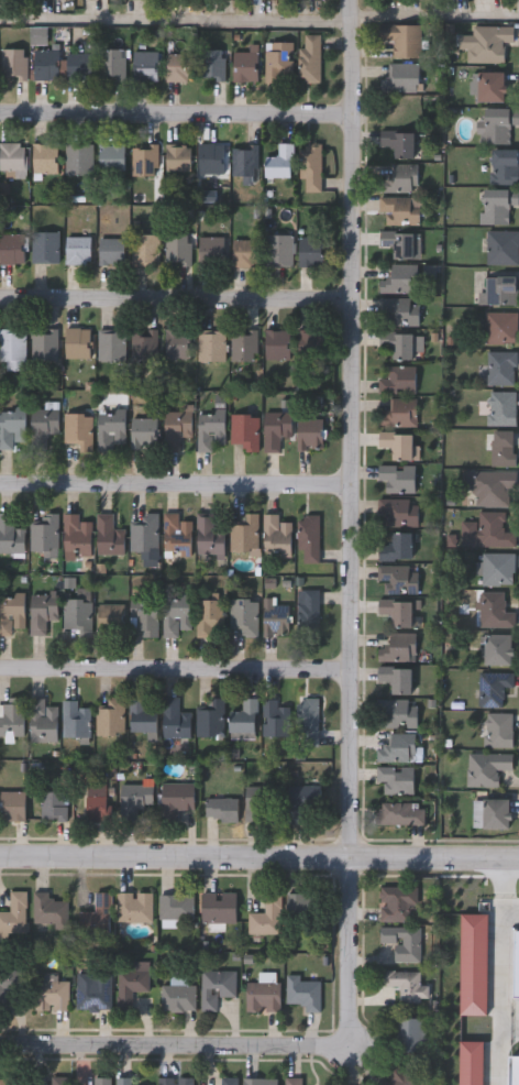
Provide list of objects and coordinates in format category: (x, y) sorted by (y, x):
building: (10, 0)
road: (259, 14)
building: (400, 40)
building: (488, 44)
building: (310, 58)
building: (279, 62)
building: (112, 63)
building: (14, 64)
building: (47, 64)
building: (80, 65)
building: (212, 65)
building: (145, 66)
building: (180, 67)
building: (246, 67)
building: (402, 78)
building: (493, 88)
road: (174, 103)
building: (496, 125)
building: (399, 143)
building: (13, 157)
building: (112, 157)
building: (179, 157)
building: (46, 158)
building: (145, 160)
building: (213, 160)
building: (79, 161)
building: (245, 162)
building: (283, 163)
building: (311, 167)
building: (505, 167)
building: (401, 178)
building: (497, 205)
building: (400, 211)
building: (401, 244)
building: (45, 248)
building: (501, 248)
building: (12, 249)
building: (178, 249)
building: (145, 250)
building: (78, 251)
building: (279, 251)
building: (112, 252)
building: (212, 252)
building: (312, 252)
building: (245, 253)
building: (400, 281)
building: (498, 291)
road: (173, 302)
building: (399, 313)
building: (500, 328)
building: (78, 342)
building: (44, 343)
building: (178, 343)
building: (310, 343)
building: (111, 344)
building: (144, 344)
building: (278, 344)
building: (401, 344)
building: (212, 346)
building: (244, 346)
building: (12, 348)
building: (500, 369)
building: (398, 380)
building: (501, 408)
building: (399, 414)
building: (43, 425)
building: (12, 428)
building: (111, 428)
building: (177, 428)
building: (212, 429)
building: (78, 430)
building: (245, 430)
building: (278, 431)
building: (144, 432)
building: (310, 434)
building: (399, 445)
building: (503, 449)
road: (173, 472)
building: (397, 478)
building: (489, 486)
road: (347, 507)
building: (397, 513)
building: (493, 531)
building: (144, 533)
building: (45, 534)
building: (246, 534)
building: (10, 535)
building: (277, 535)
building: (77, 536)
building: (110, 536)
building: (178, 536)
building: (211, 536)
building: (309, 537)
building: (398, 547)
building: (497, 569)
building: (397, 579)
building: (309, 609)
building: (494, 611)
building: (42, 612)
building: (397, 612)
building: (11, 613)
building: (177, 614)
building: (245, 615)
building: (210, 616)
building: (146, 617)
building: (276, 617)
building: (111, 620)
building: (398, 648)
building: (499, 649)
road: (174, 659)
building: (397, 678)
building: (493, 688)
building: (398, 712)
building: (144, 716)
building: (247, 716)
building: (12, 717)
building: (111, 717)
building: (75, 719)
building: (176, 719)
building: (210, 719)
building: (276, 719)
building: (42, 721)
building: (310, 722)
building: (498, 730)
building: (398, 748)
building: (486, 768)
building: (397, 779)
building: (179, 797)
building: (135, 799)
building: (280, 801)
building: (97, 802)
building: (12, 805)
building: (54, 805)
building: (223, 808)
building: (400, 813)
building: (492, 814)
road: (259, 854)
building: (397, 901)
building: (176, 905)
building: (133, 906)
building: (301, 906)
building: (219, 907)
building: (47, 909)
building: (13, 913)
building: (96, 916)
building: (266, 916)
building: (402, 942)
building: (474, 963)
building: (515, 963)
road: (499, 971)
building: (9, 983)
building: (130, 984)
building: (406, 984)
building: (216, 986)
building: (93, 991)
building: (302, 991)
building: (49, 994)
building: (177, 995)
building: (262, 995)
road: (509, 1027)
building: (411, 1034)
road: (187, 1042)
building: (470, 1063)
building: (514, 1070)
building: (397, 1077)
building: (10, 1081)
building: (58, 1081)
building: (113, 1081)
building: (175, 1081)
building: (229, 1081)
building: (262, 1081)
building: (294, 1081)

